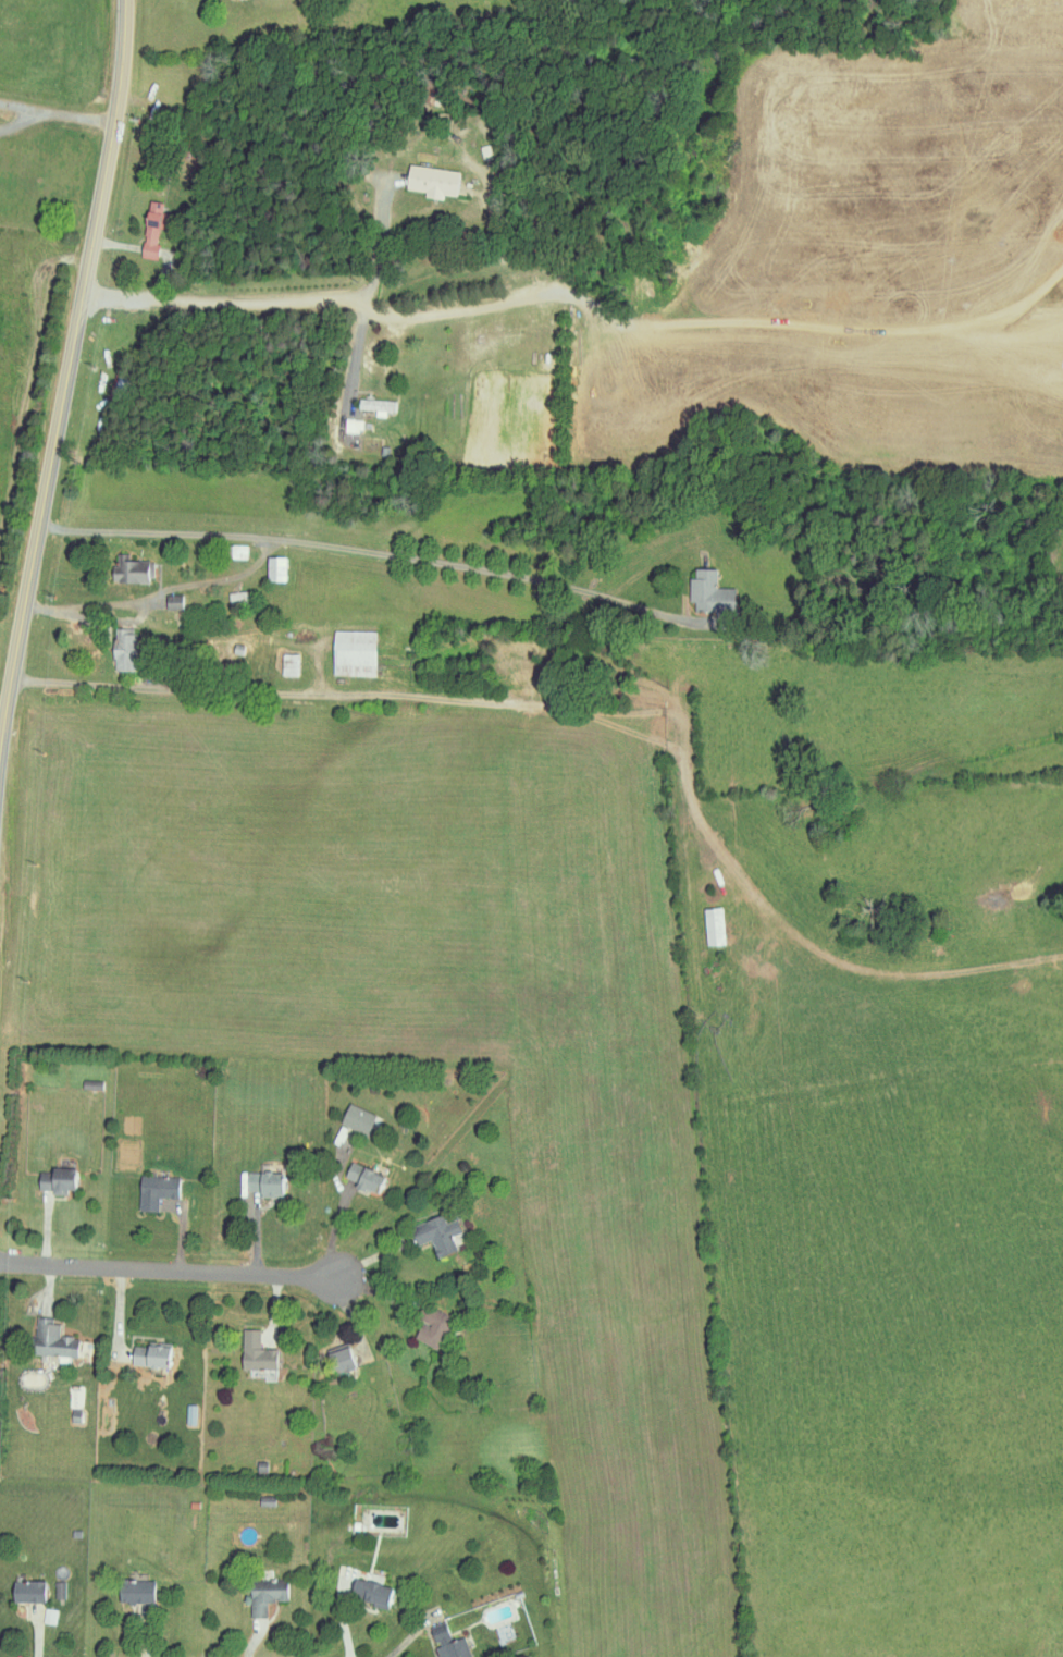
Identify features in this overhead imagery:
road: (90, 124)
building: (430, 181)
building: (151, 229)
road: (127, 232)
road: (382, 243)
road: (275, 304)
road: (64, 383)
building: (374, 405)
road: (311, 537)
building: (273, 569)
building: (128, 570)
road: (161, 592)
building: (708, 592)
building: (122, 651)
building: (351, 653)
building: (288, 665)
road: (441, 701)
building: (712, 926)
building: (356, 1118)
building: (361, 1176)
building: (55, 1179)
building: (264, 1182)
building: (154, 1190)
road: (338, 1231)
building: (435, 1232)
road: (50, 1239)
road: (180, 1239)
road: (252, 1243)
road: (378, 1263)
road: (166, 1272)
road: (49, 1289)
road: (369, 1293)
road: (120, 1310)
road: (273, 1310)
road: (347, 1320)
building: (430, 1325)
building: (51, 1339)
building: (255, 1351)
building: (148, 1354)
building: (339, 1359)
building: (189, 1413)
building: (60, 1590)
building: (26, 1591)
building: (134, 1591)
building: (370, 1593)
building: (264, 1595)
road: (339, 1615)
road: (36, 1635)
road: (145, 1637)
road: (409, 1638)
road: (257, 1640)
building: (447, 1642)

